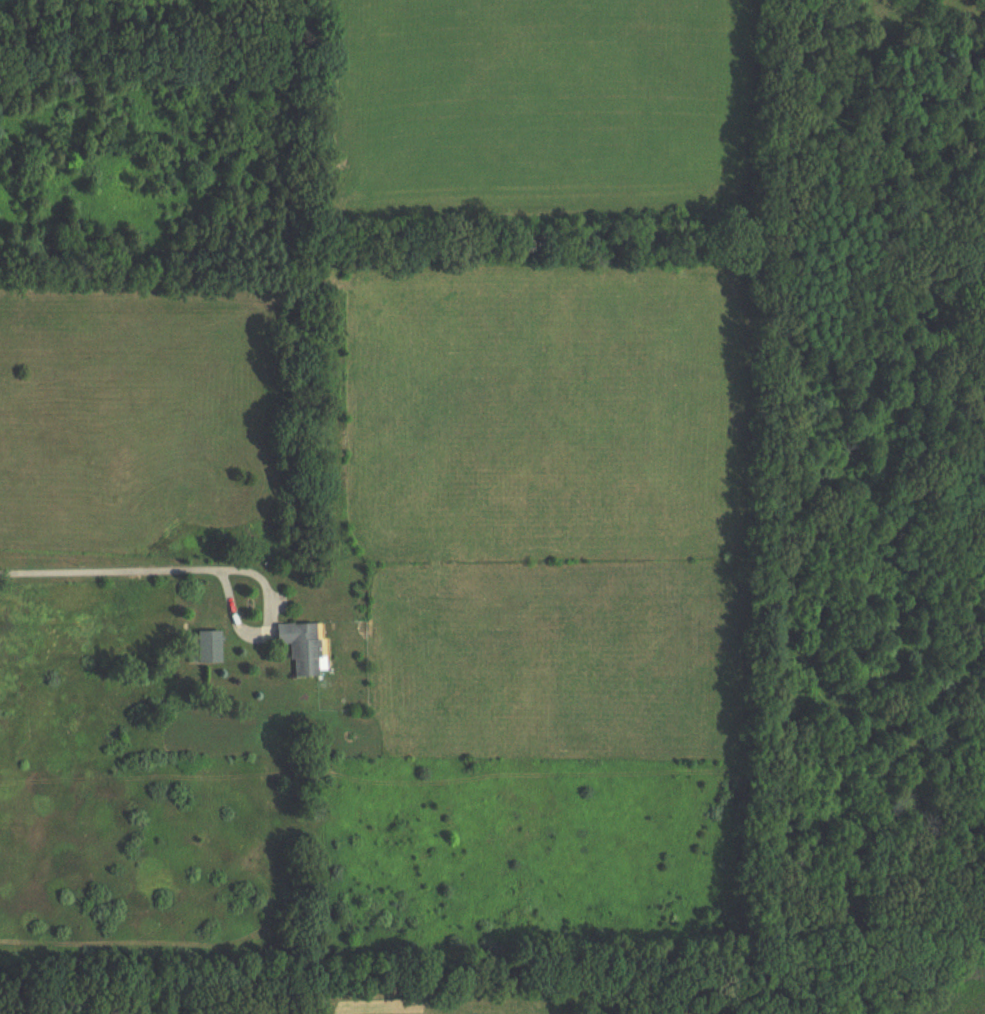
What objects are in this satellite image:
road: (108, 572)
building: (212, 648)
building: (306, 648)

